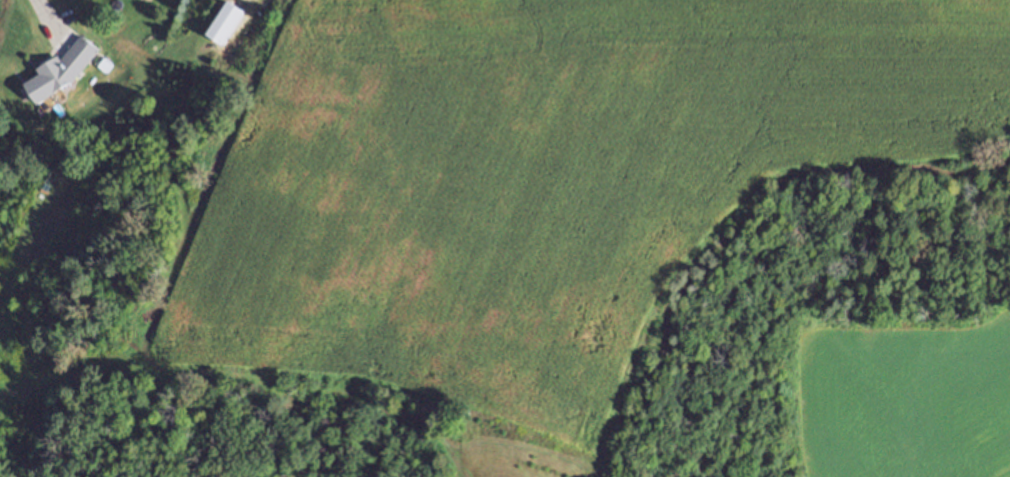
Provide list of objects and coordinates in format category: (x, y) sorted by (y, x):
road: (46, 11)
building: (224, 21)
building: (61, 69)

